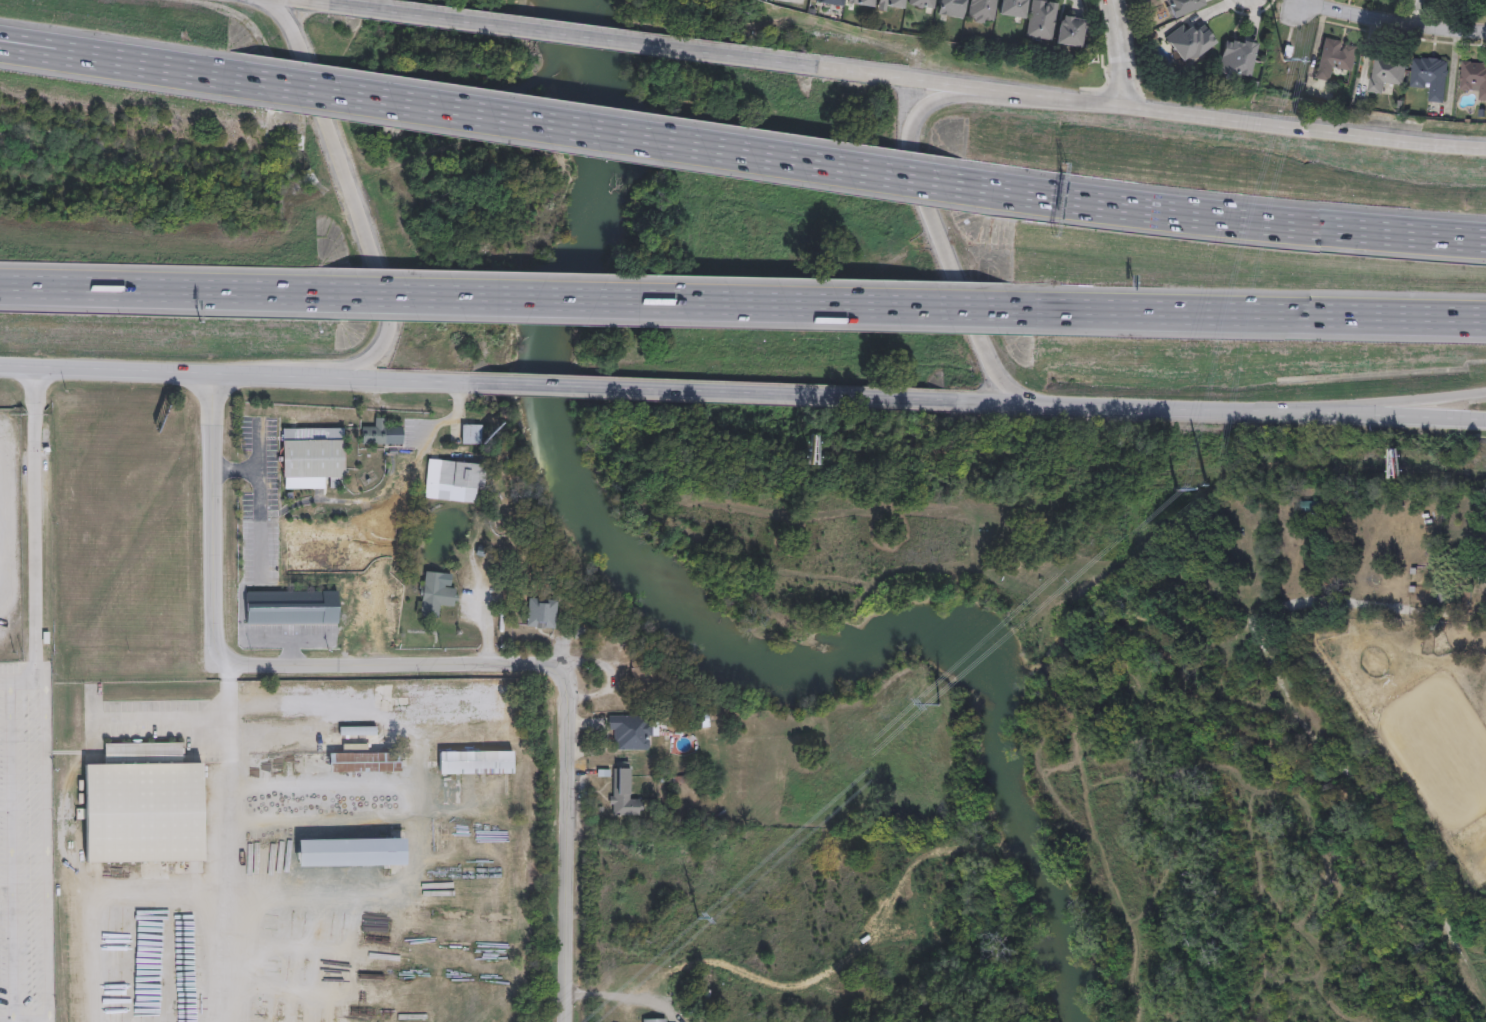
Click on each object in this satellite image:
building: (769, 0)
road: (322, 1)
building: (831, 2)
building: (862, 2)
building: (888, 4)
building: (942, 6)
building: (1012, 8)
building: (982, 11)
building: (1041, 19)
road: (1392, 19)
building: (1070, 30)
road: (575, 34)
river: (576, 51)
road: (1127, 51)
road: (107, 52)
power tower: (1284, 62)
road: (106, 64)
road: (224, 76)
road: (1151, 106)
road: (620, 135)
road: (350, 185)
road: (927, 207)
road: (1246, 221)
road: (33, 282)
road: (33, 285)
road: (194, 289)
road: (668, 301)
road: (1250, 313)
road: (233, 371)
road: (722, 390)
road: (1419, 399)
road: (1232, 403)
road: (453, 414)
building: (382, 432)
building: (471, 435)
building: (314, 453)
road: (235, 469)
building: (461, 474)
power tower: (1174, 491)
road: (258, 498)
road: (33, 521)
road: (214, 529)
building: (1485, 559)
building: (435, 594)
building: (542, 614)
river: (702, 628)
road: (288, 638)
road: (291, 651)
building: (645, 675)
road: (22, 680)
road: (5, 681)
road: (40, 683)
road: (565, 688)
power tower: (938, 705)
road: (156, 720)
building: (633, 730)
building: (358, 731)
building: (364, 761)
building: (446, 761)
building: (623, 791)
building: (144, 804)
road: (228, 847)
road: (11, 851)
building: (351, 851)
road: (46, 854)
power tower: (698, 918)
road: (617, 994)
building: (654, 1019)
road: (30, 1021)

